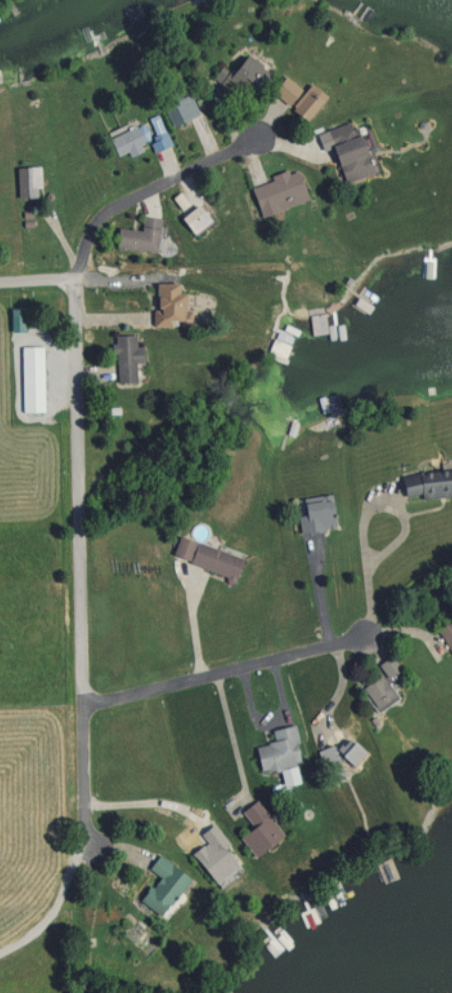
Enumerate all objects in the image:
building: (242, 76)
building: (298, 98)
building: (180, 110)
building: (157, 135)
building: (126, 142)
building: (348, 152)
building: (26, 186)
road: (146, 192)
building: (277, 193)
building: (194, 219)
building: (139, 236)
road: (37, 281)
building: (167, 302)
building: (317, 323)
building: (125, 357)
building: (31, 377)
building: (427, 483)
road: (372, 508)
building: (314, 513)
road: (79, 553)
building: (205, 557)
road: (189, 626)
building: (445, 635)
road: (329, 654)
road: (262, 665)
building: (388, 666)
building: (377, 691)
road: (232, 740)
building: (278, 751)
building: (348, 752)
road: (153, 805)
building: (257, 829)
building: (218, 859)
building: (162, 885)
road: (52, 888)

